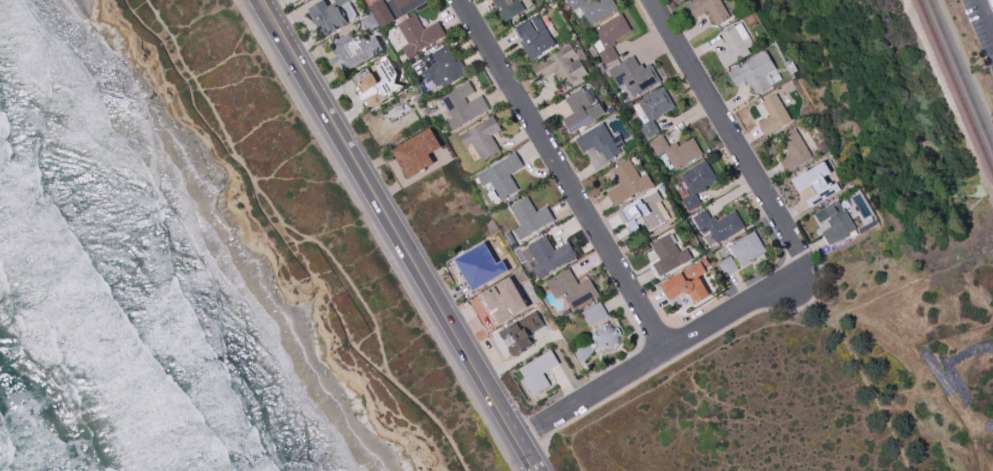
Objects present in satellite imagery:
building: (402, 3)
building: (991, 4)
building: (510, 7)
building: (593, 8)
building: (709, 10)
building: (381, 12)
road: (986, 13)
building: (328, 15)
building: (370, 22)
building: (418, 34)
building: (535, 36)
building: (610, 36)
building: (735, 45)
building: (356, 49)
building: (563, 65)
building: (441, 66)
building: (755, 72)
railway: (961, 74)
building: (634, 75)
building: (366, 81)
railway: (956, 86)
building: (463, 105)
building: (583, 108)
building: (653, 110)
building: (774, 115)
road: (726, 133)
building: (483, 137)
building: (601, 141)
building: (823, 145)
building: (678, 151)
building: (794, 151)
building: (416, 152)
road: (559, 175)
building: (501, 177)
building: (627, 182)
building: (695, 183)
building: (816, 184)
building: (645, 212)
building: (530, 217)
building: (836, 221)
building: (719, 224)
building: (868, 226)
road: (394, 235)
road: (308, 236)
building: (509, 238)
building: (747, 248)
building: (669, 255)
building: (547, 256)
building: (479, 263)
building: (728, 265)
building: (521, 275)
road: (799, 278)
building: (687, 284)
building: (572, 288)
road: (722, 299)
building: (506, 300)
building: (564, 313)
building: (594, 314)
building: (522, 332)
building: (607, 337)
road: (669, 346)
building: (583, 351)
road: (701, 358)
road: (673, 359)
road: (929, 369)
building: (539, 371)
road: (875, 401)

